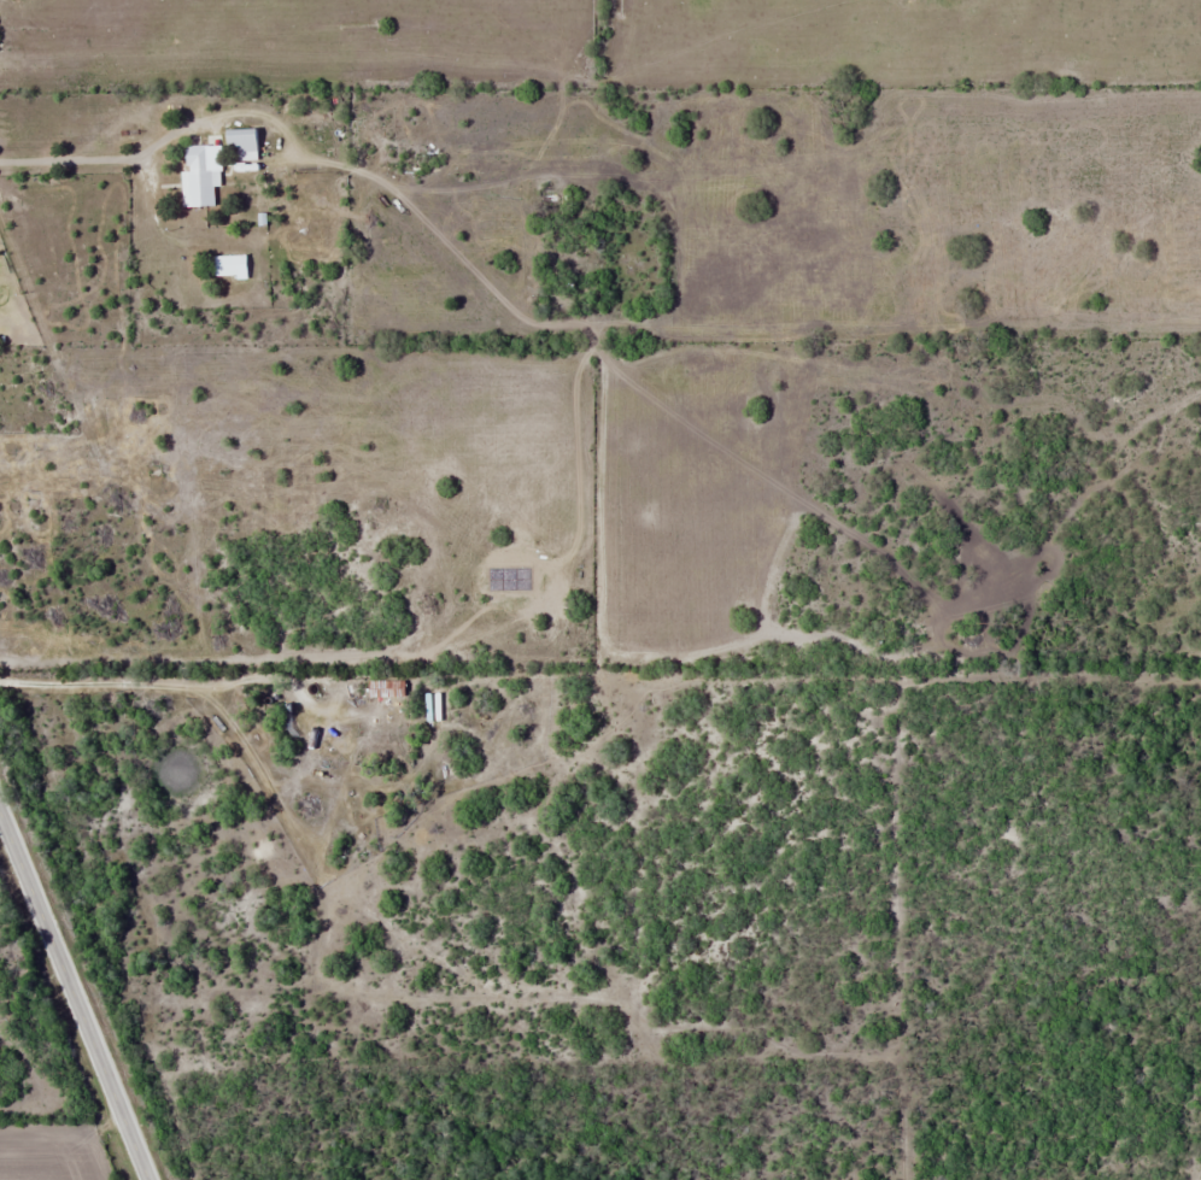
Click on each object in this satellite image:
building: (245, 145)
road: (100, 154)
building: (200, 178)
building: (234, 265)
road: (74, 994)

